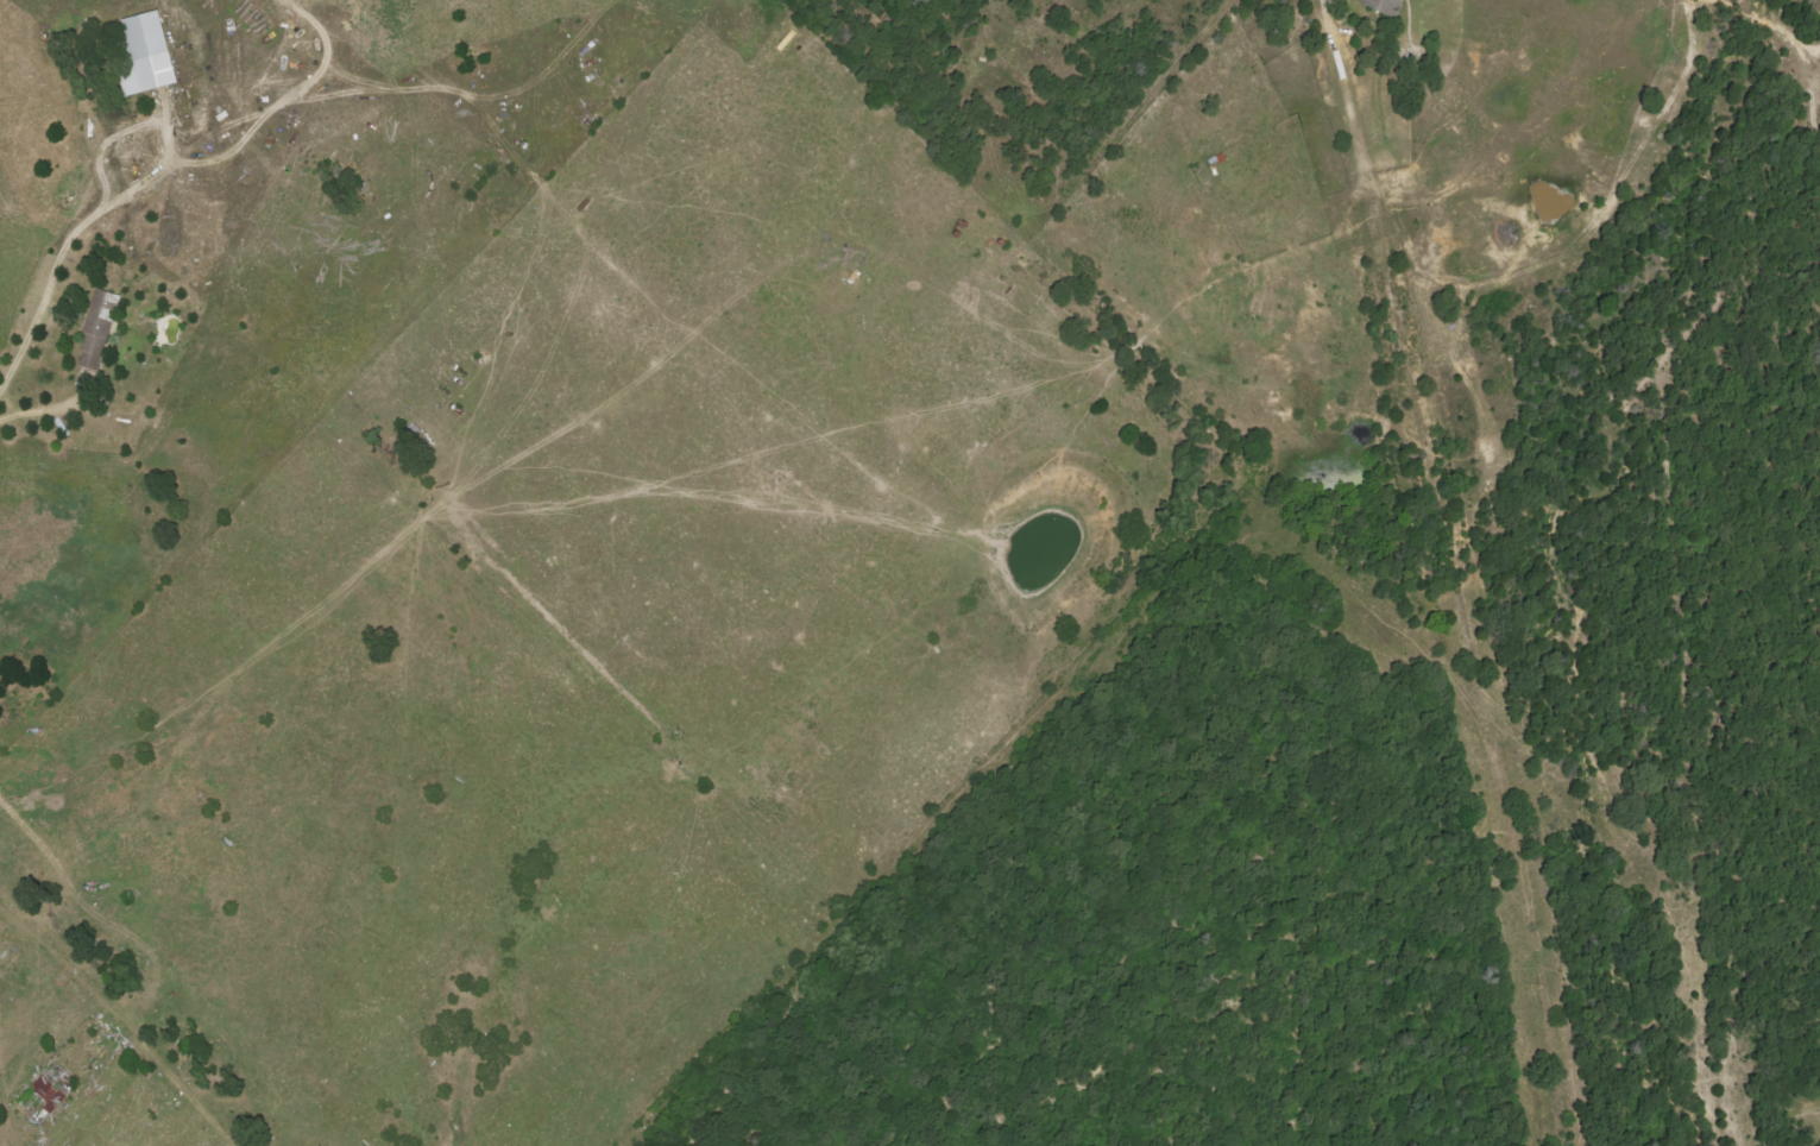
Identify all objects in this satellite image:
building: (1388, 5)
building: (150, 55)
road: (165, 165)
building: (101, 329)
road: (42, 414)

